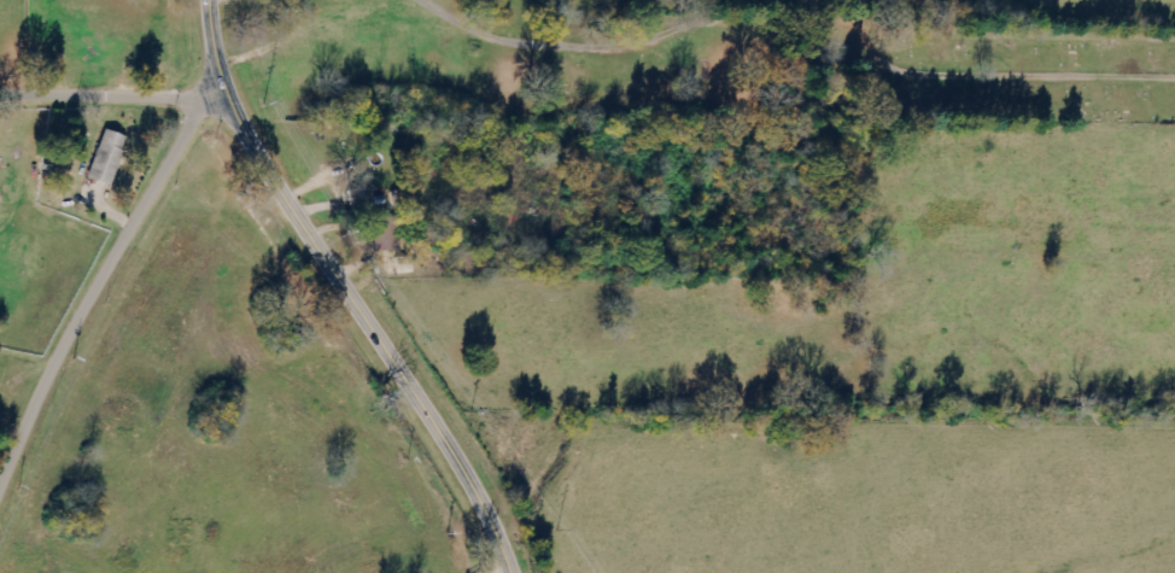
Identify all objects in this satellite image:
road: (112, 93)
building: (101, 156)
road: (103, 282)
road: (347, 291)

